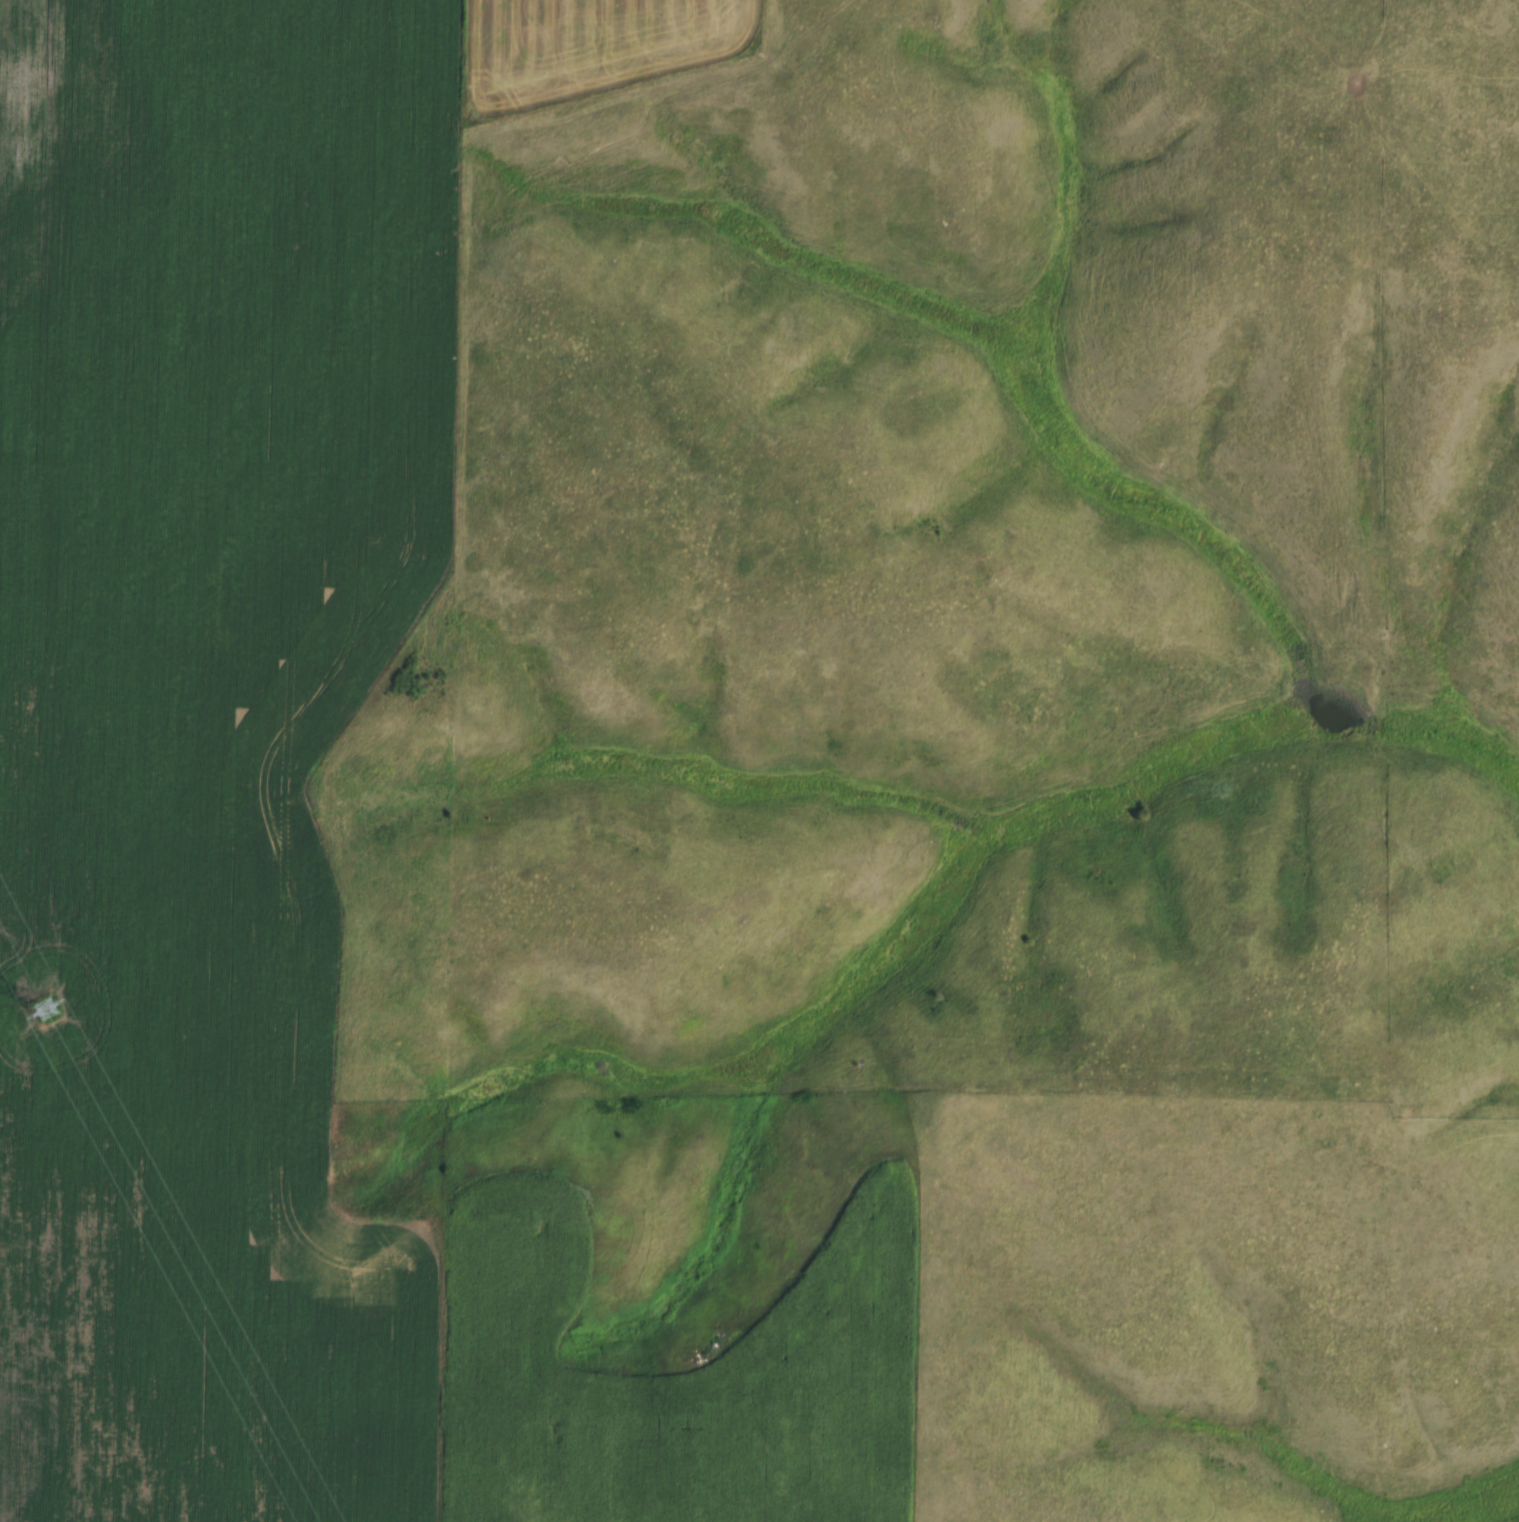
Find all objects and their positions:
power tower: (49, 1014)

